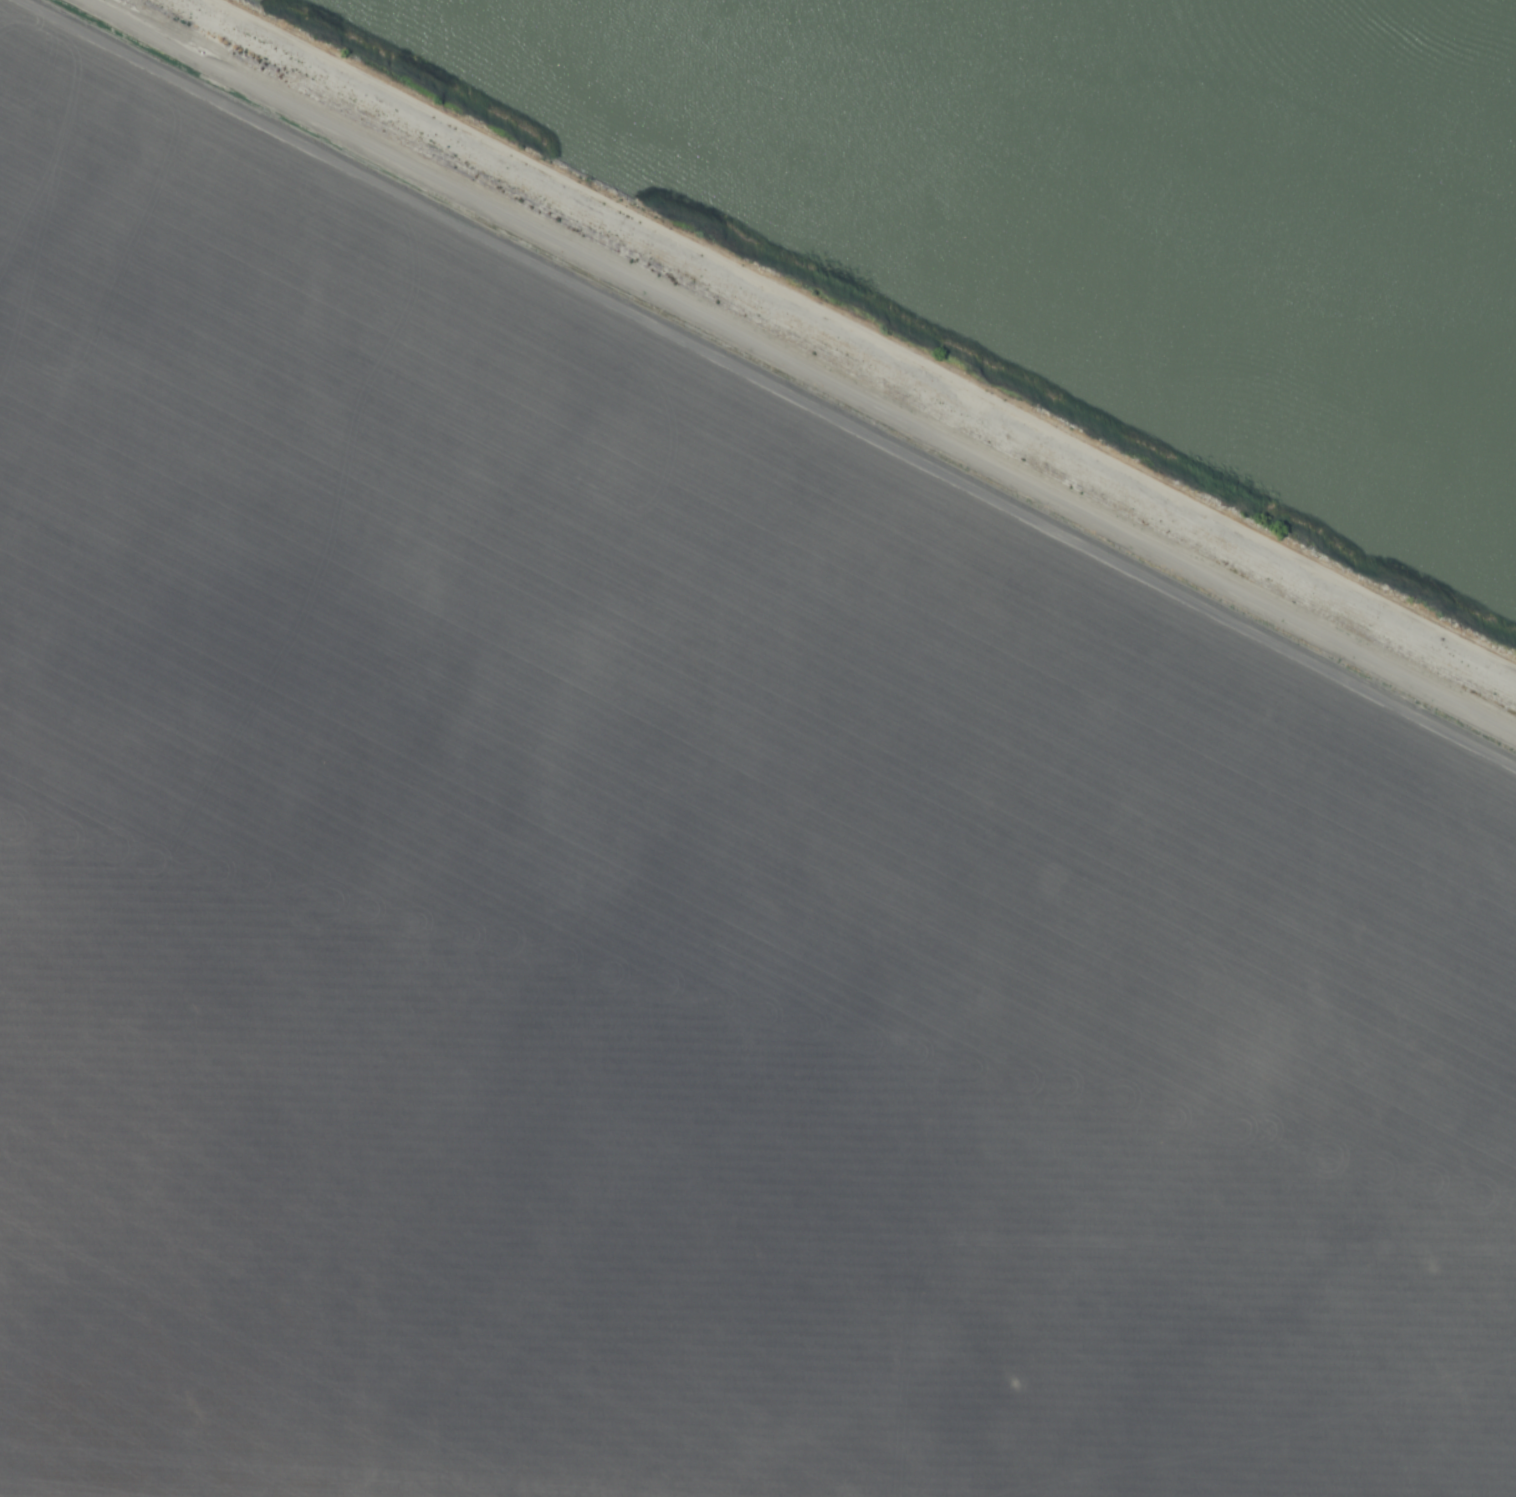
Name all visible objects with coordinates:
crop: (692, 847)

